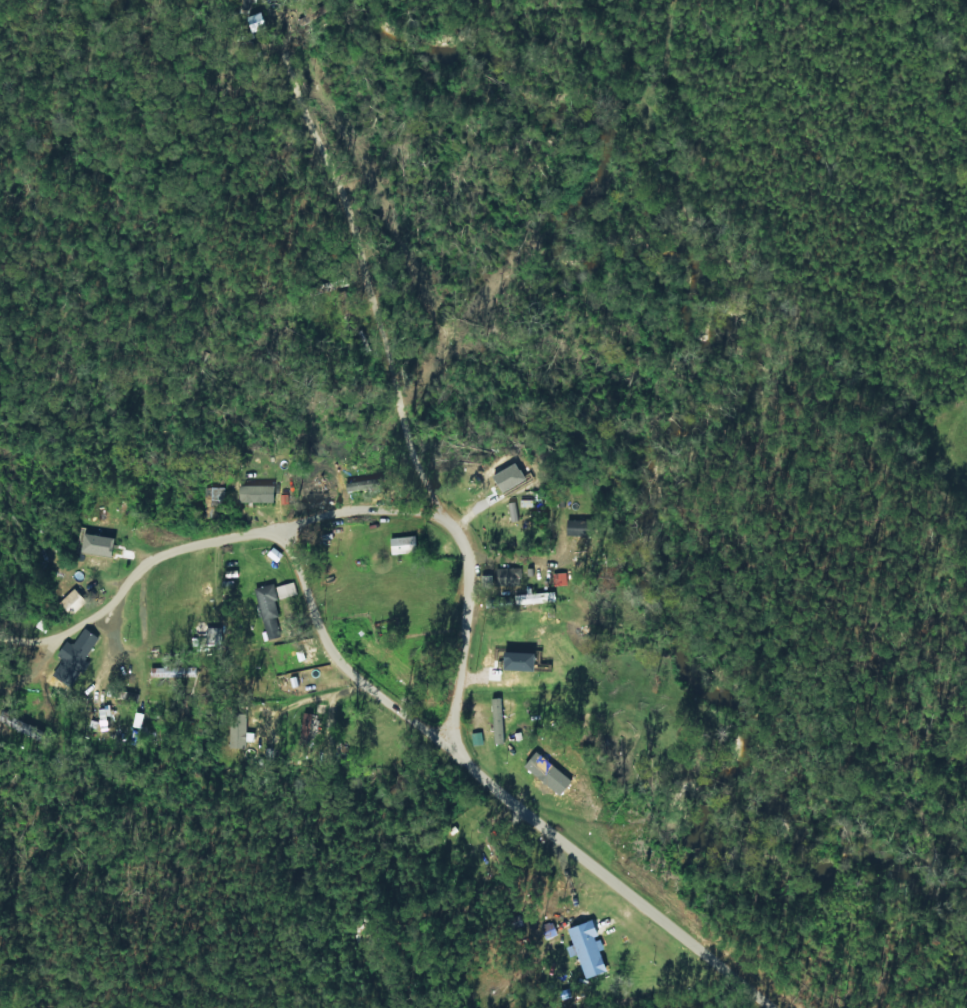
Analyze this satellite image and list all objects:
road: (933, 78)
road: (455, 447)
building: (508, 475)
building: (356, 485)
building: (256, 493)
road: (186, 496)
building: (211, 500)
building: (575, 527)
road: (309, 536)
building: (403, 544)
building: (95, 556)
building: (507, 576)
building: (286, 590)
building: (527, 599)
building: (72, 601)
building: (267, 604)
road: (495, 619)
road: (202, 651)
building: (74, 657)
building: (508, 662)
building: (497, 721)
building: (306, 724)
building: (18, 725)
building: (236, 735)
building: (476, 738)
road: (489, 794)
road: (409, 843)
building: (588, 949)

